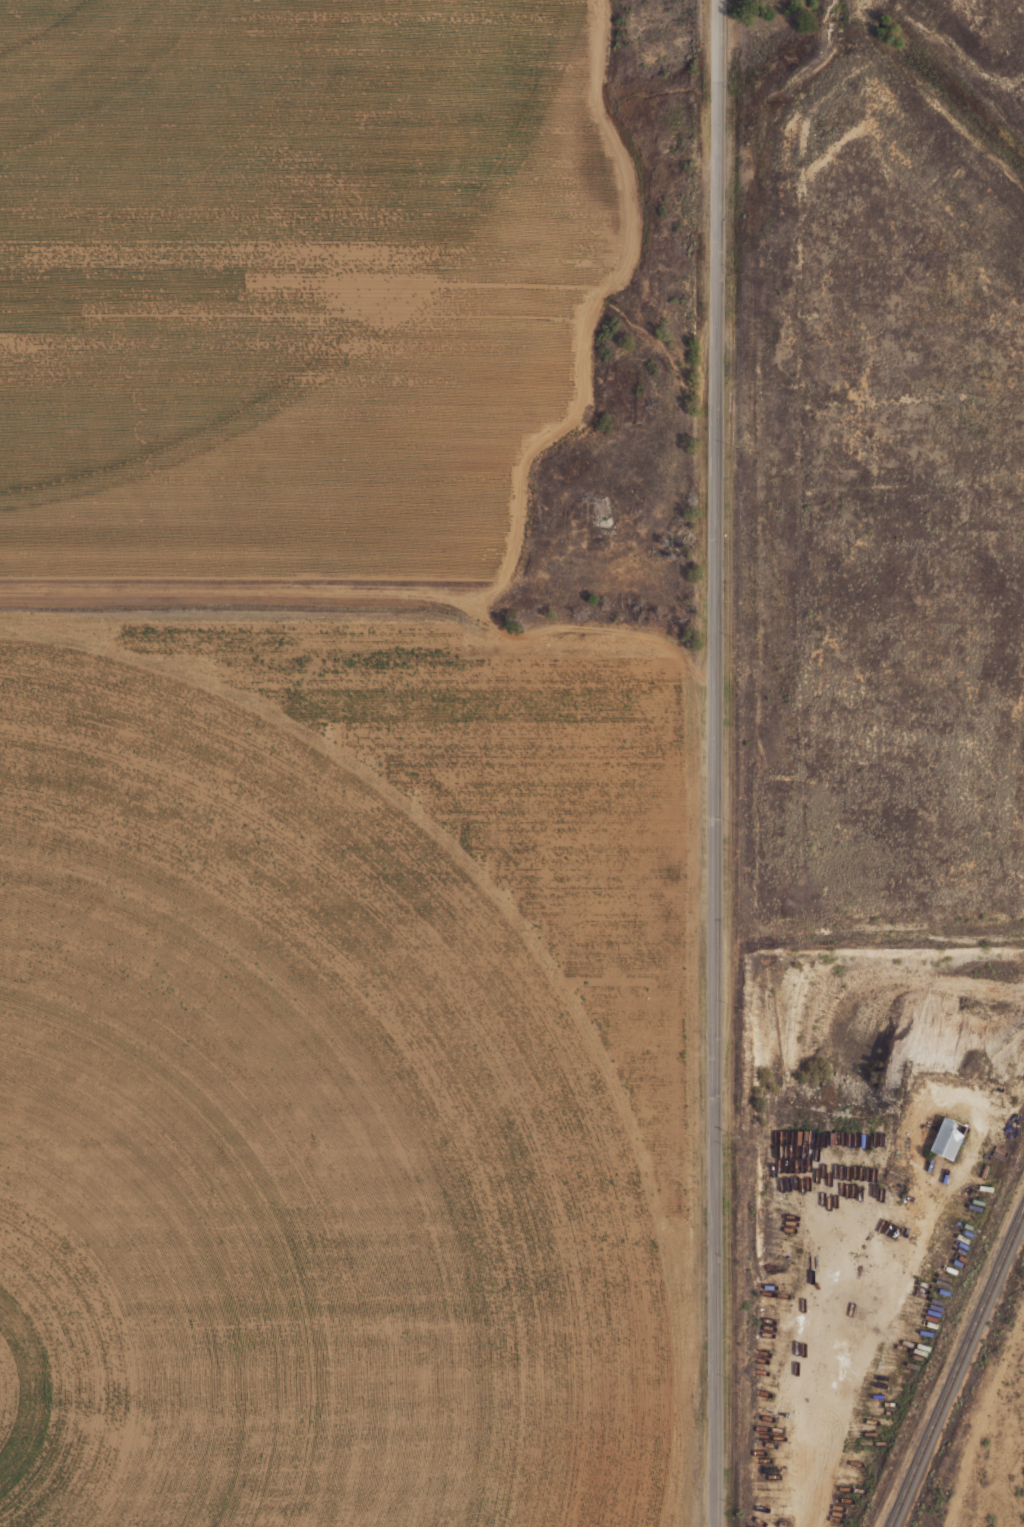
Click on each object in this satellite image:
road: (716, 763)
building: (949, 1137)
railway: (957, 1368)
road: (986, 1427)

